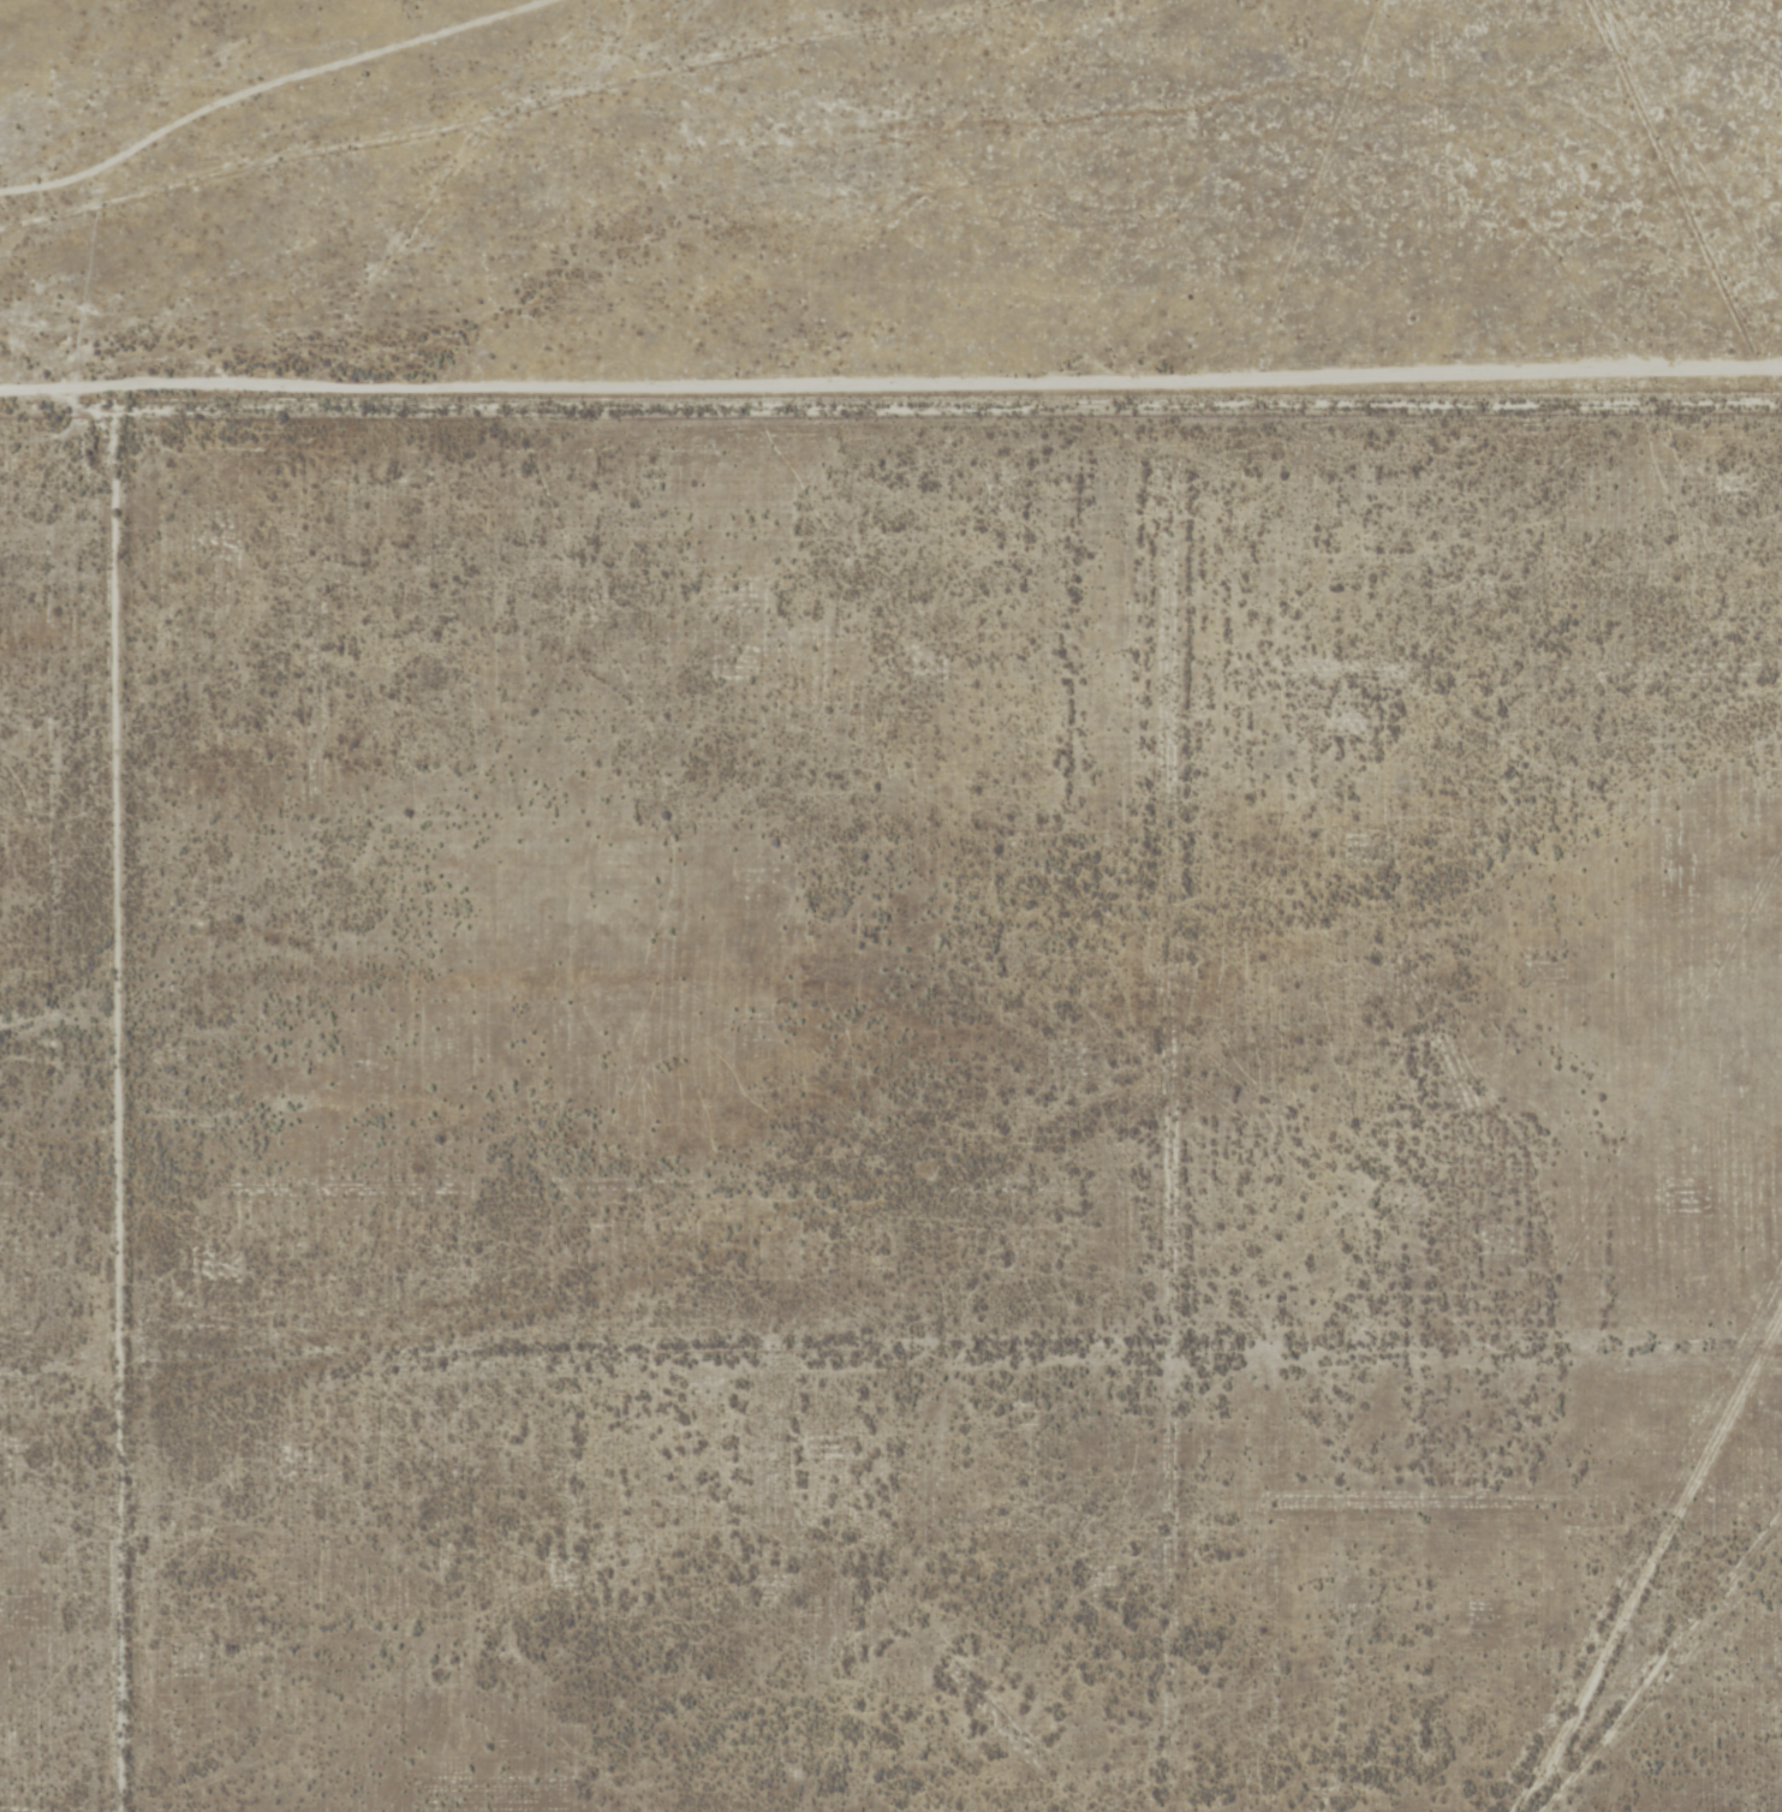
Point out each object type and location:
road: (1519, 1071)
road: (756, 1269)
road: (1210, 1651)
road: (1021, 1700)

